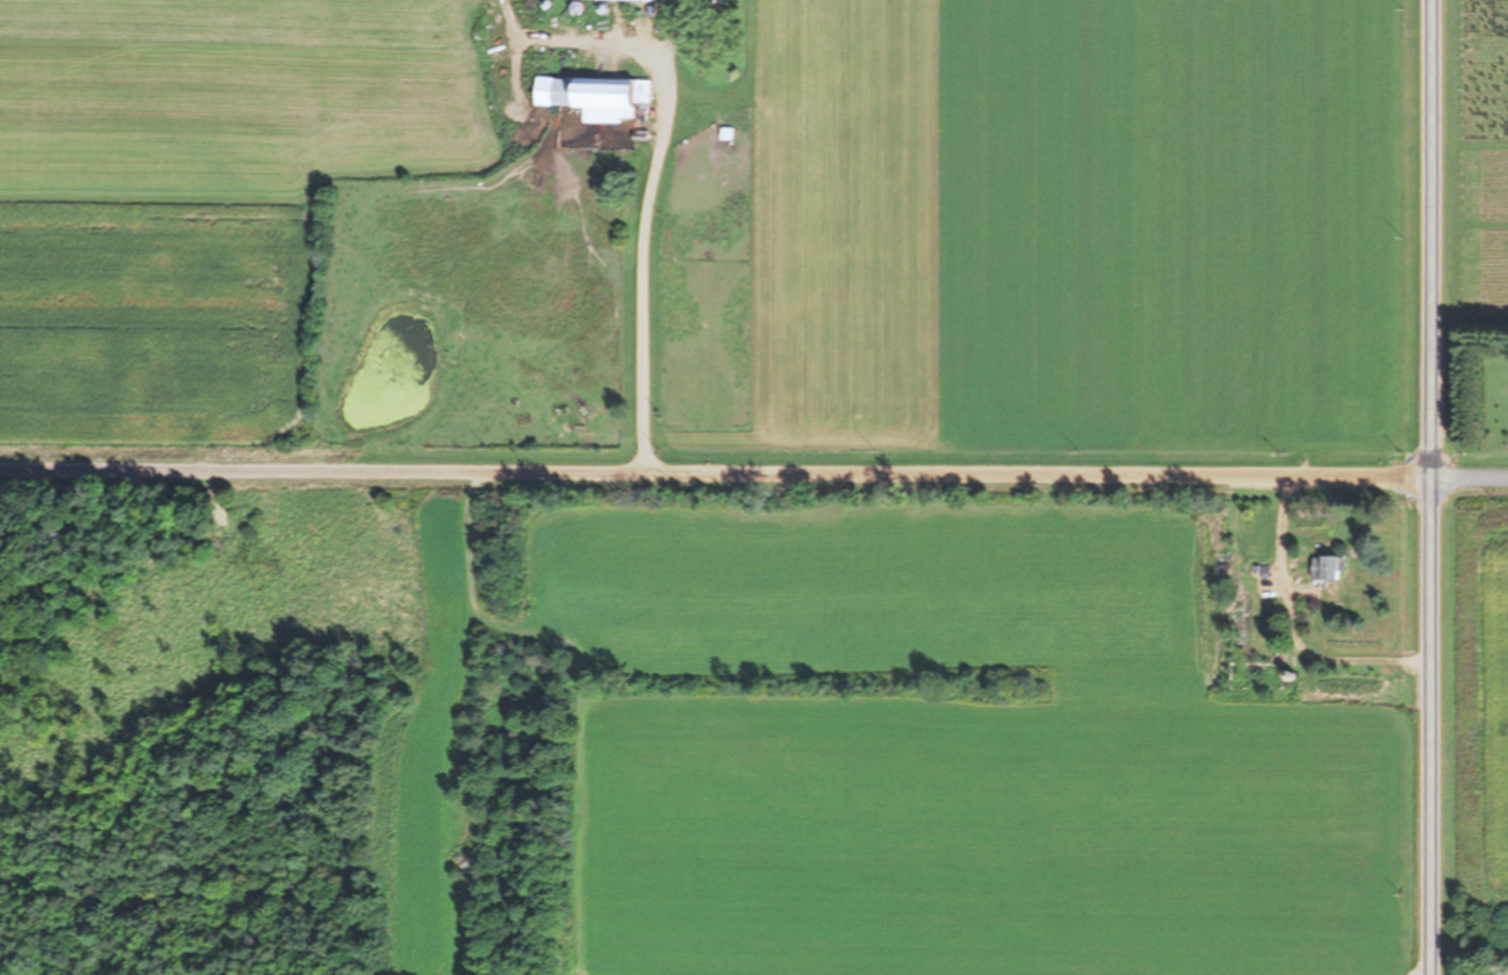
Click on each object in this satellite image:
building: (710, 2)
building: (598, 96)
crop: (714, 231)
road: (716, 472)
road: (1470, 476)
road: (1431, 487)
building: (1330, 567)
crop: (1475, 725)
crop: (904, 737)

